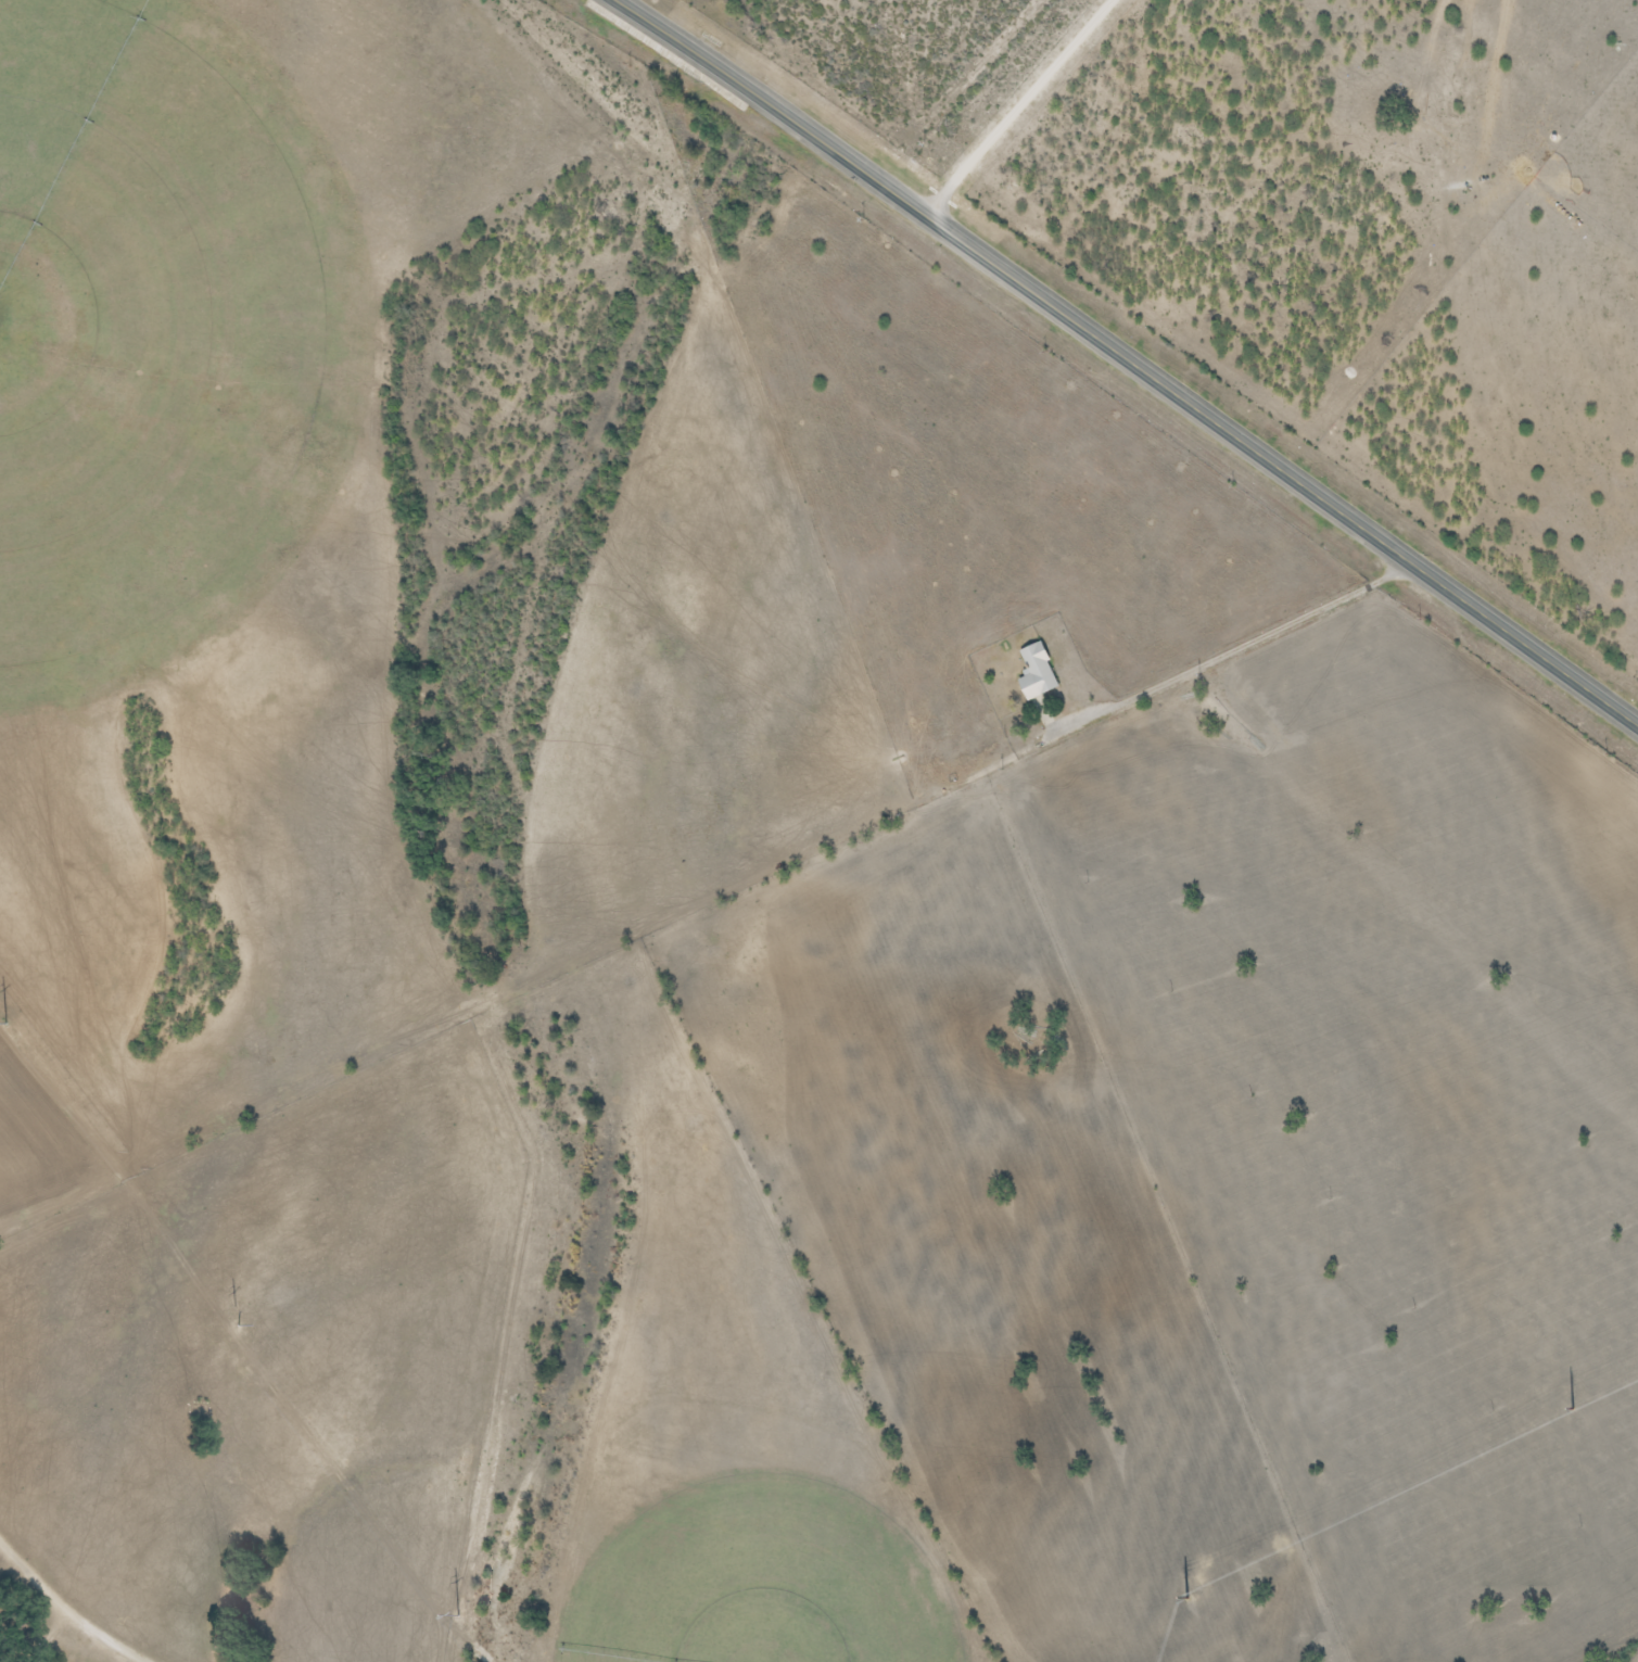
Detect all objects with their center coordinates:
road: (1129, 356)
railway: (1093, 397)
building: (1036, 673)
power tower: (232, 1318)
power tower: (1580, 1409)
power tower: (1188, 1594)
road: (68, 1603)
power tower: (465, 1620)

